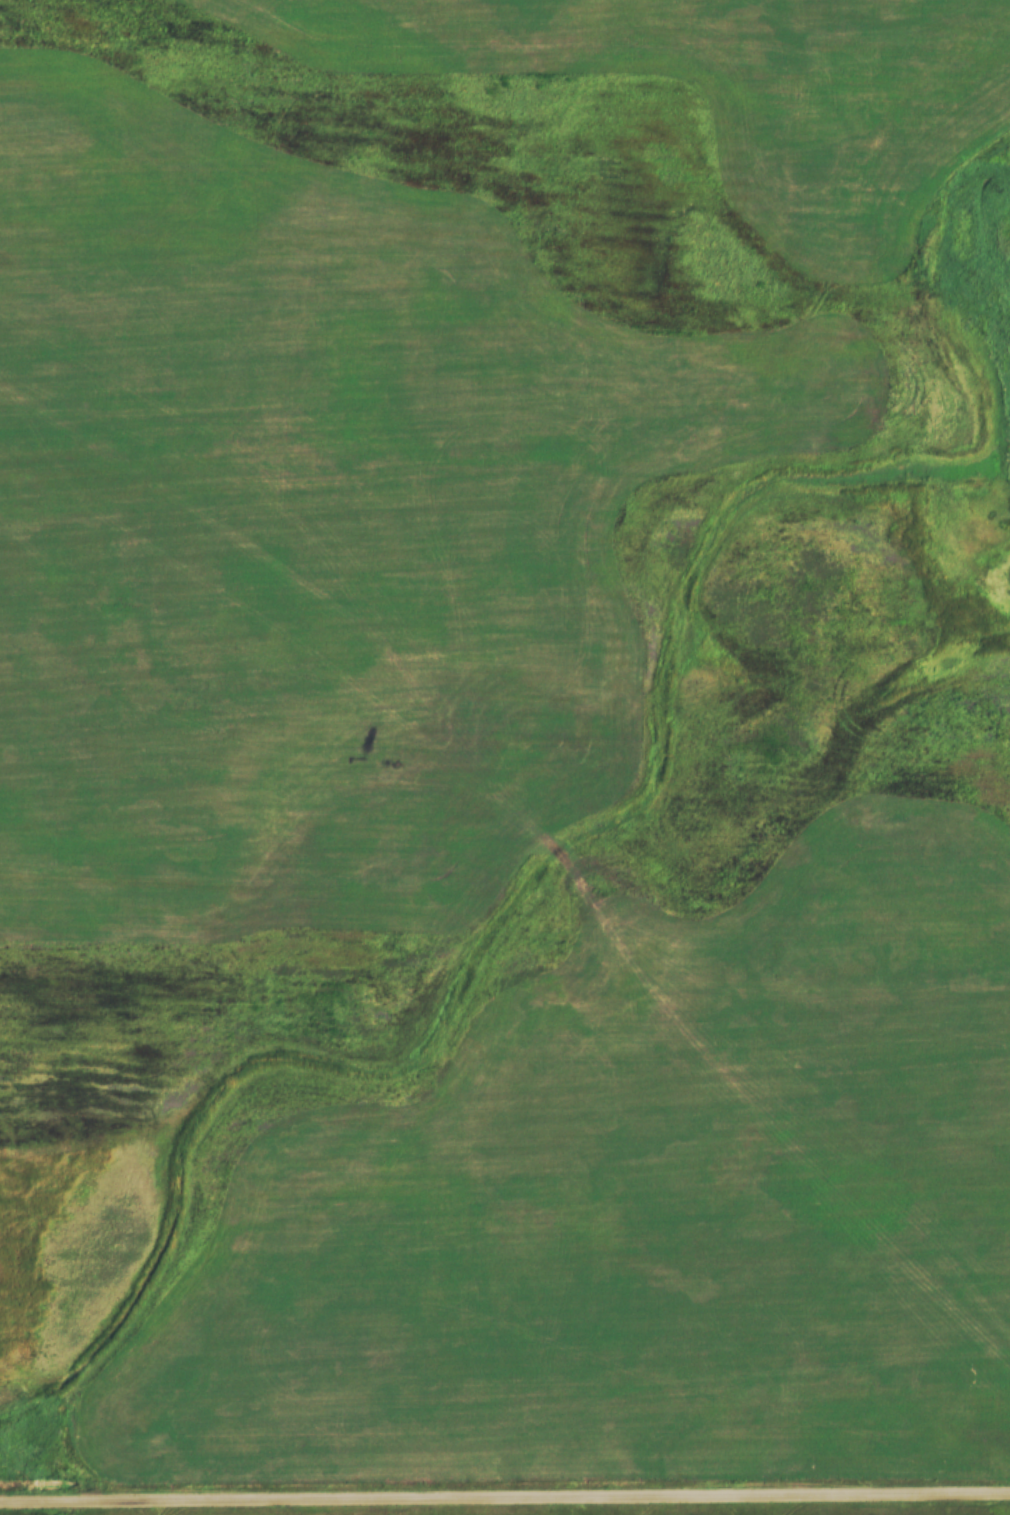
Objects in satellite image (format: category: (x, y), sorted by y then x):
road: (505, 1499)

